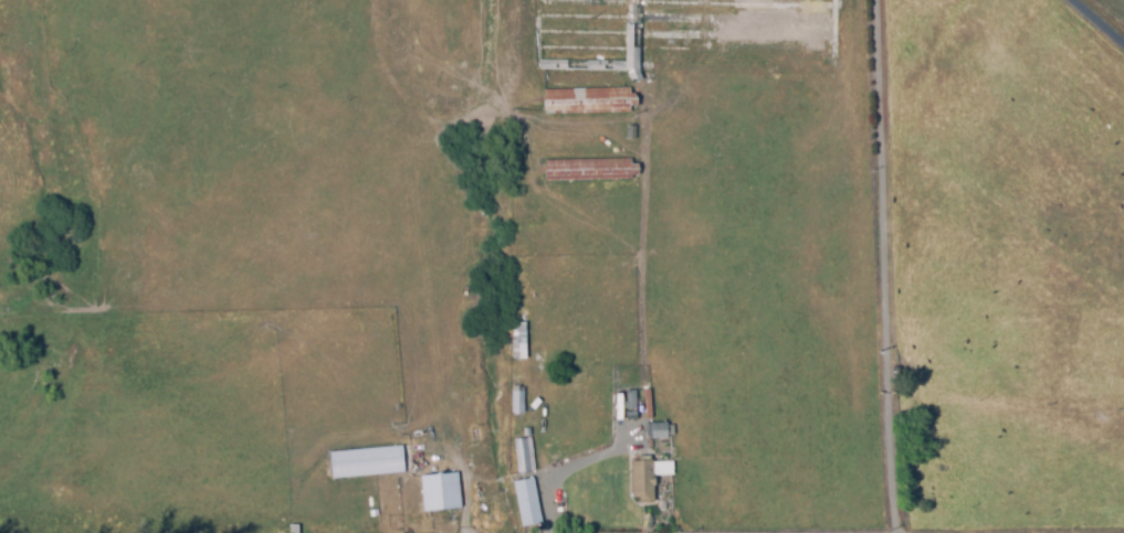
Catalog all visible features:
building: (742, 3)
building: (591, 10)
building: (764, 20)
road: (1100, 21)
building: (589, 25)
building: (592, 34)
building: (764, 35)
building: (837, 35)
building: (564, 49)
building: (780, 50)
building: (809, 67)
building: (590, 102)
building: (633, 135)
building: (592, 172)
road: (881, 266)
building: (522, 342)
road: (642, 348)
building: (521, 397)
building: (633, 401)
building: (649, 405)
building: (634, 416)
building: (664, 431)
building: (528, 458)
building: (370, 465)
building: (654, 478)
building: (445, 494)
building: (533, 505)

